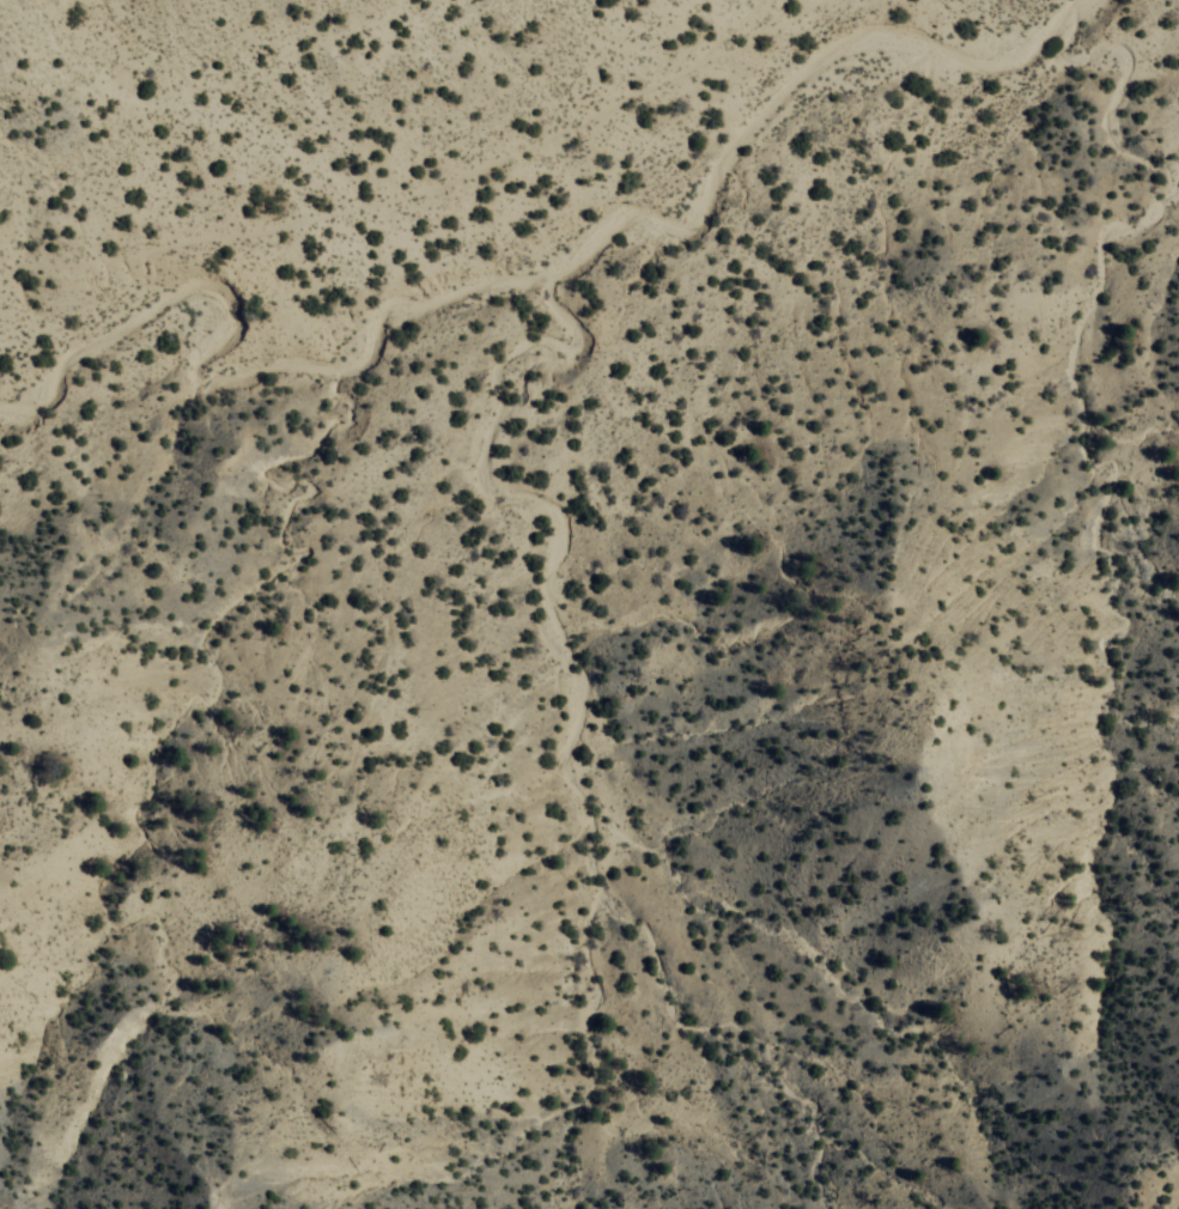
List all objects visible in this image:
road: (434, 193)

